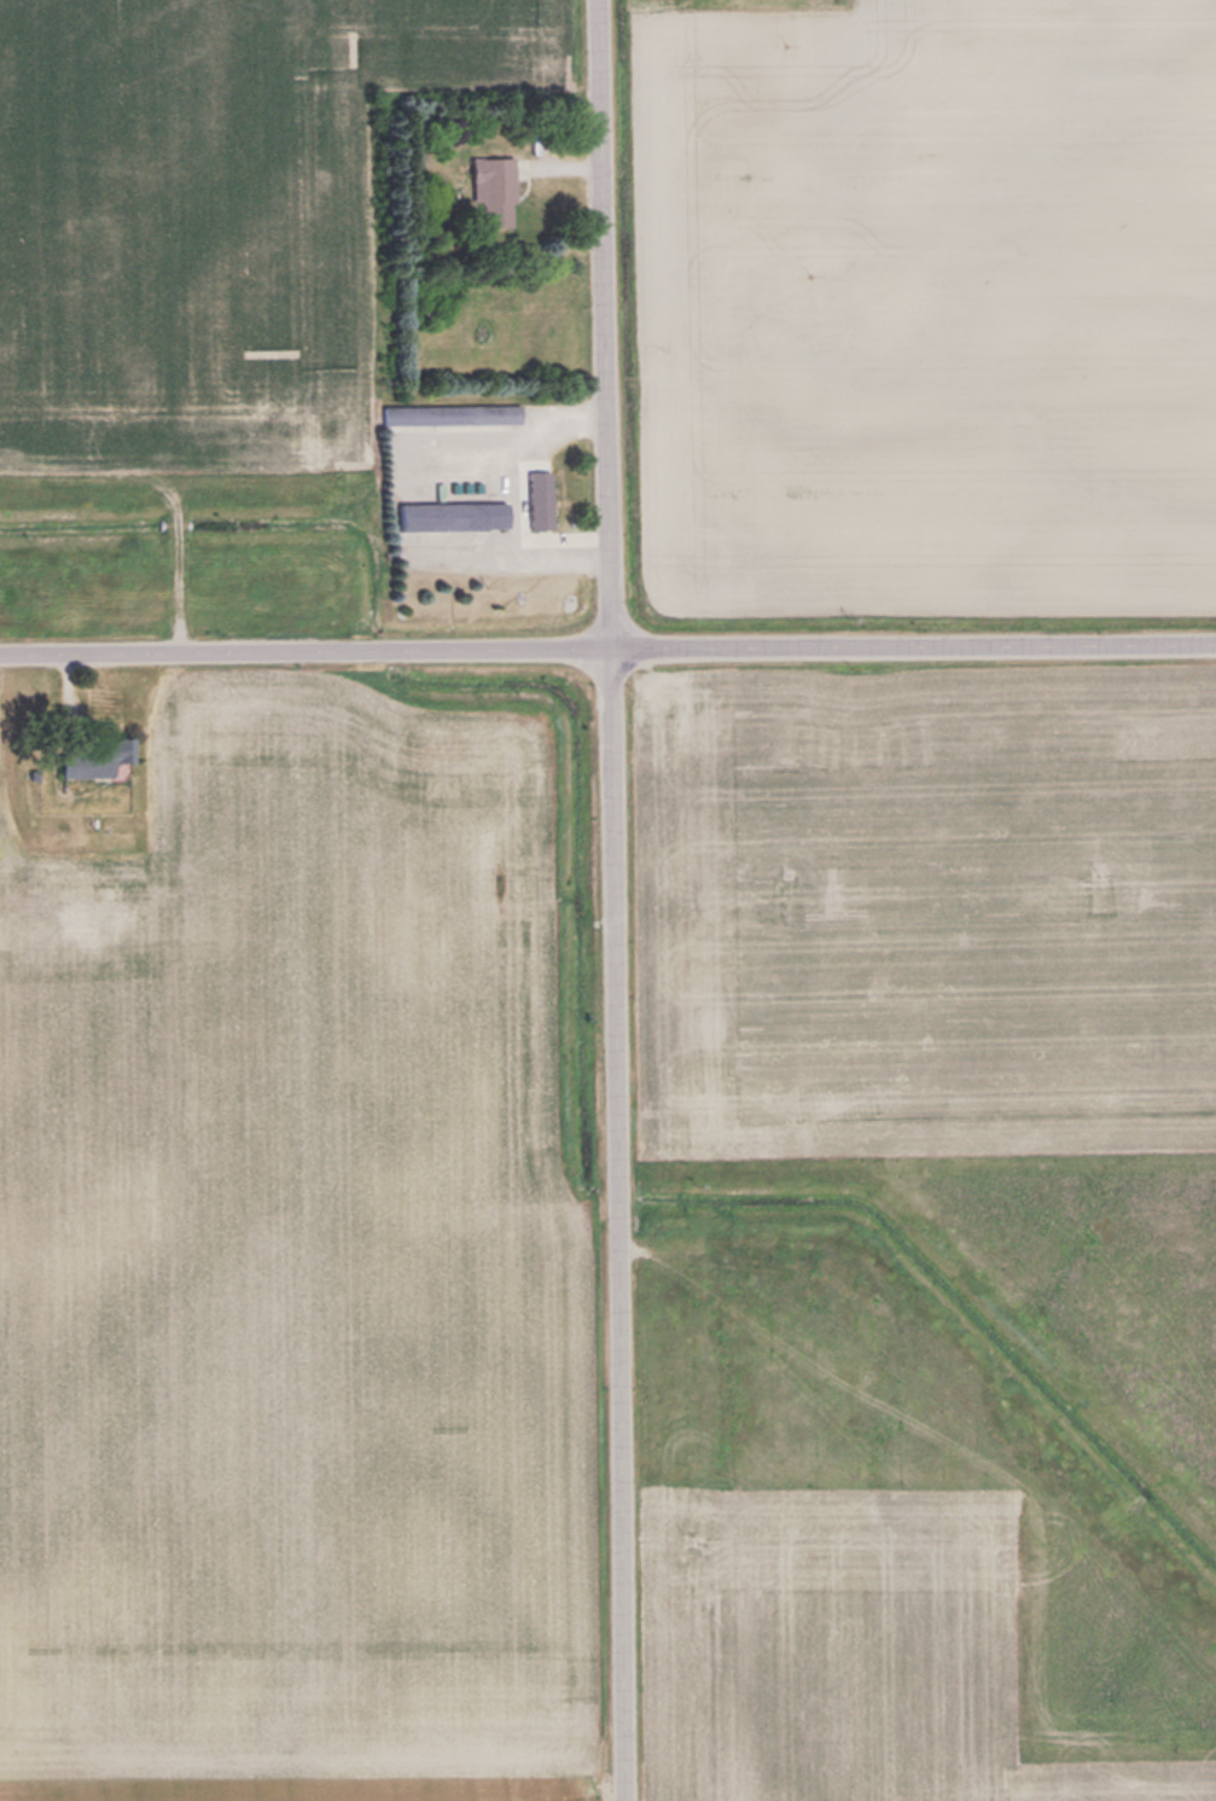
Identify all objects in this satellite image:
building: (485, 188)
road: (609, 324)
building: (443, 416)
building: (531, 505)
building: (444, 515)
road: (607, 649)
building: (92, 760)
building: (74, 882)
road: (619, 1225)

